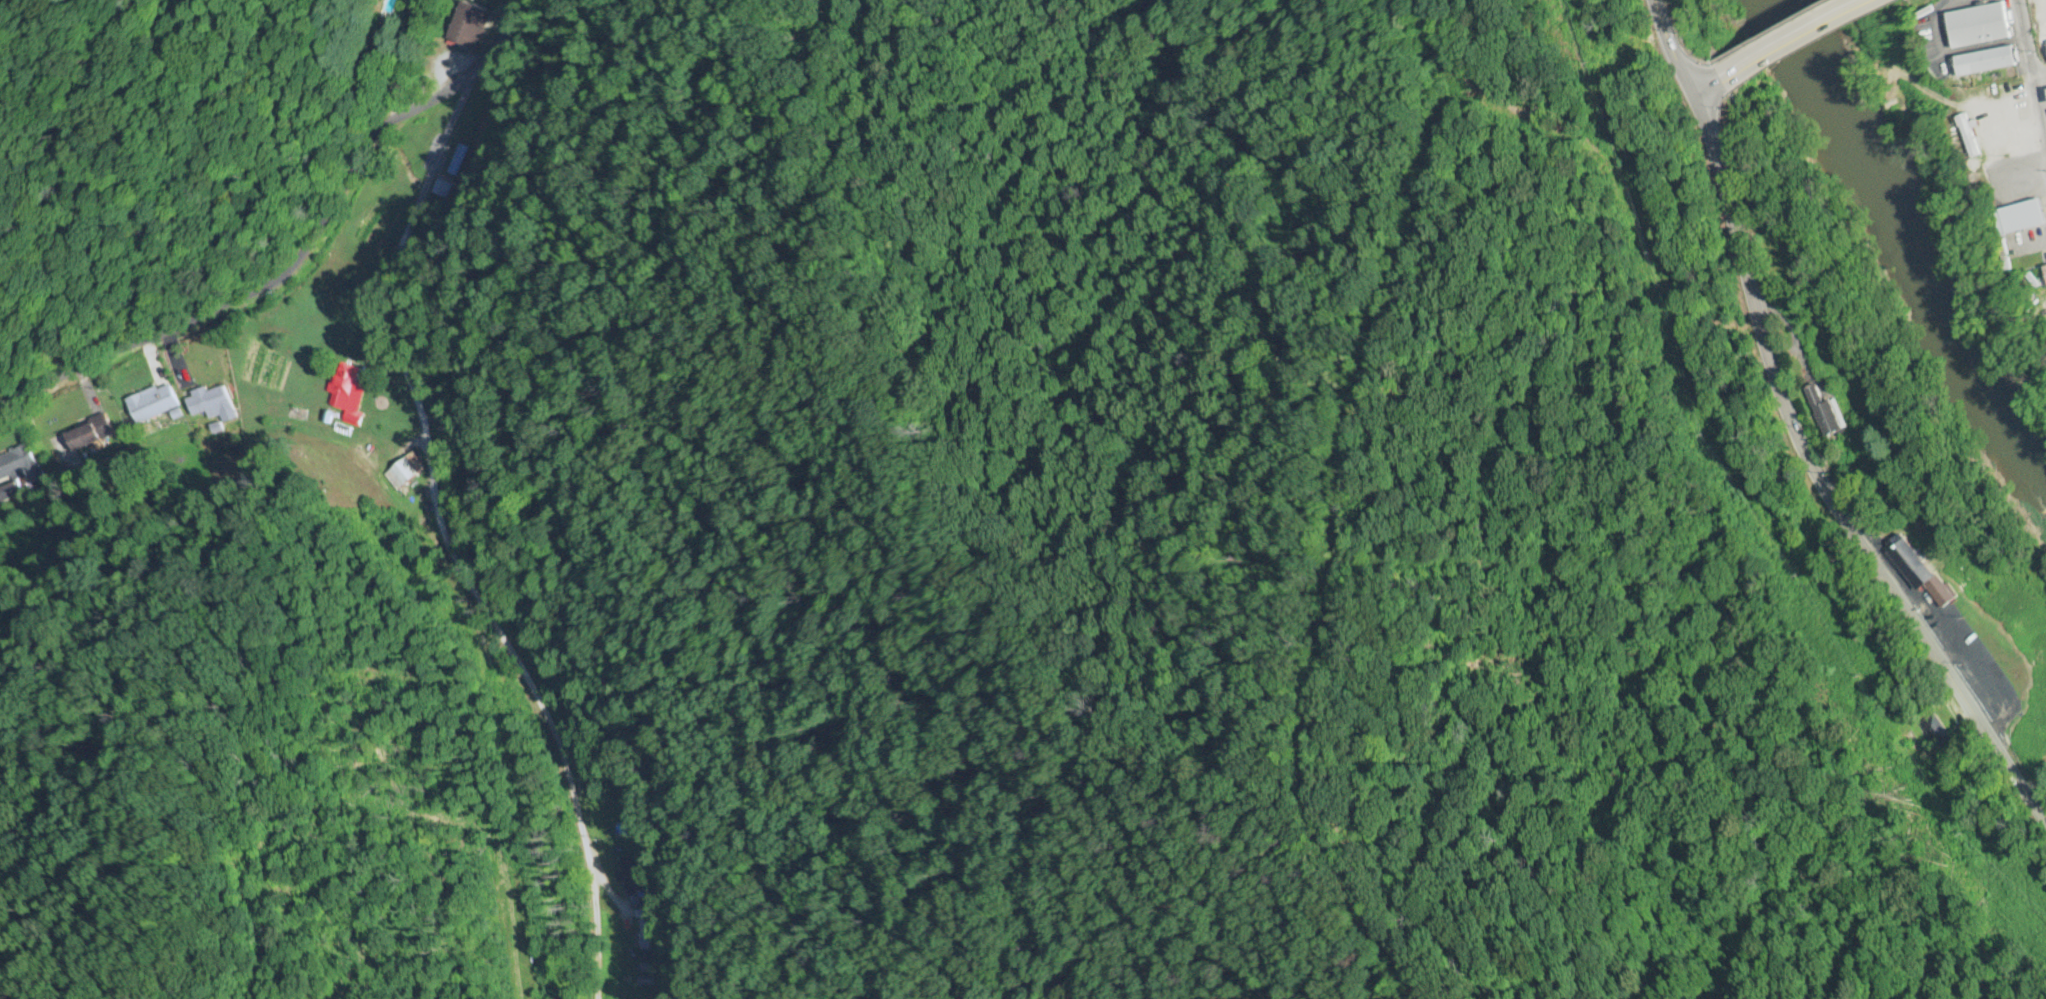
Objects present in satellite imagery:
road: (1838, 20)
building: (470, 26)
building: (1978, 26)
road: (2034, 45)
road: (1678, 49)
road: (1766, 58)
building: (1985, 62)
road: (2026, 67)
road: (1712, 87)
building: (1957, 136)
building: (453, 164)
building: (2020, 218)
river: (1923, 228)
road: (300, 251)
building: (2045, 268)
building: (150, 404)
building: (209, 405)
building: (1824, 409)
building: (85, 437)
building: (19, 468)
building: (399, 476)
road: (1820, 484)
road: (422, 535)
building: (631, 874)
building: (641, 941)

